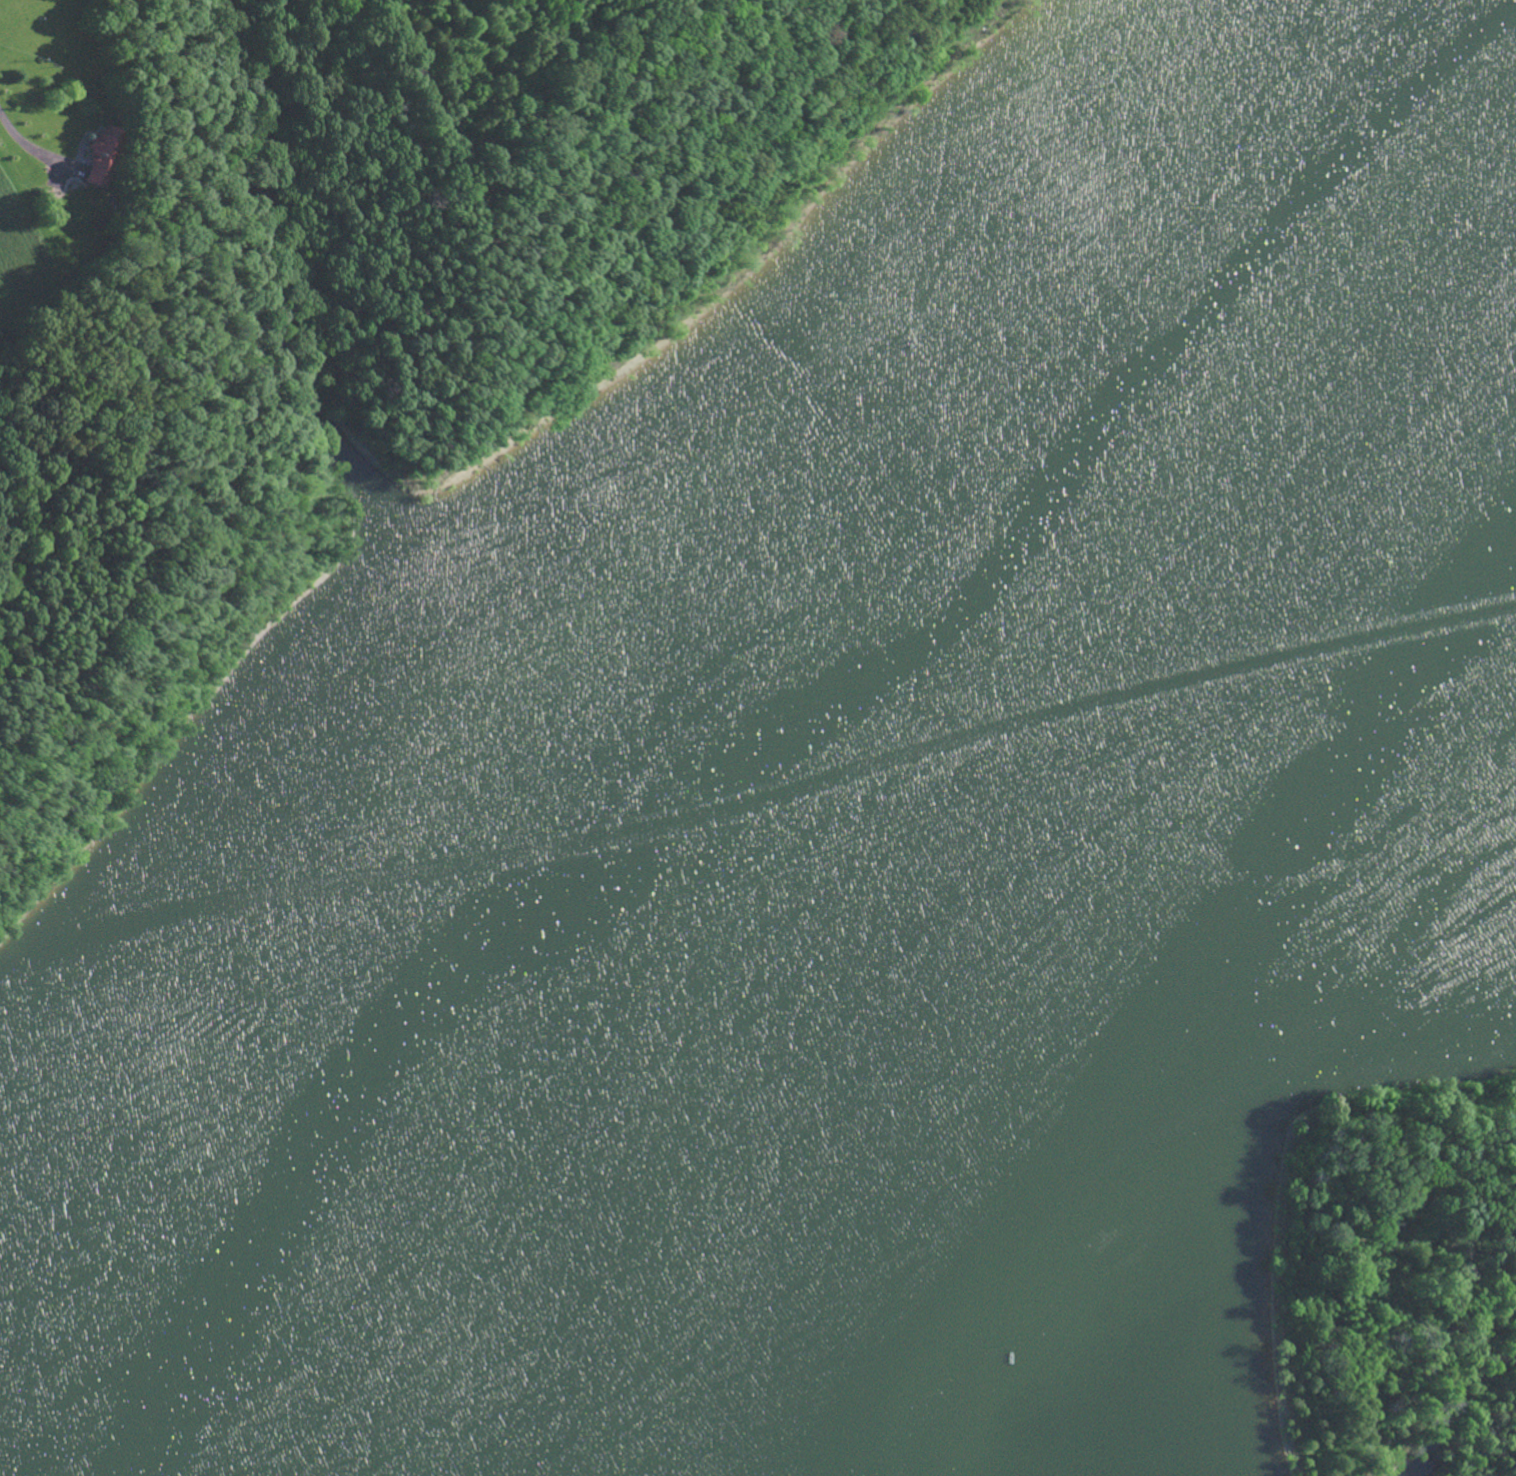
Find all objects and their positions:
building: (96, 154)

